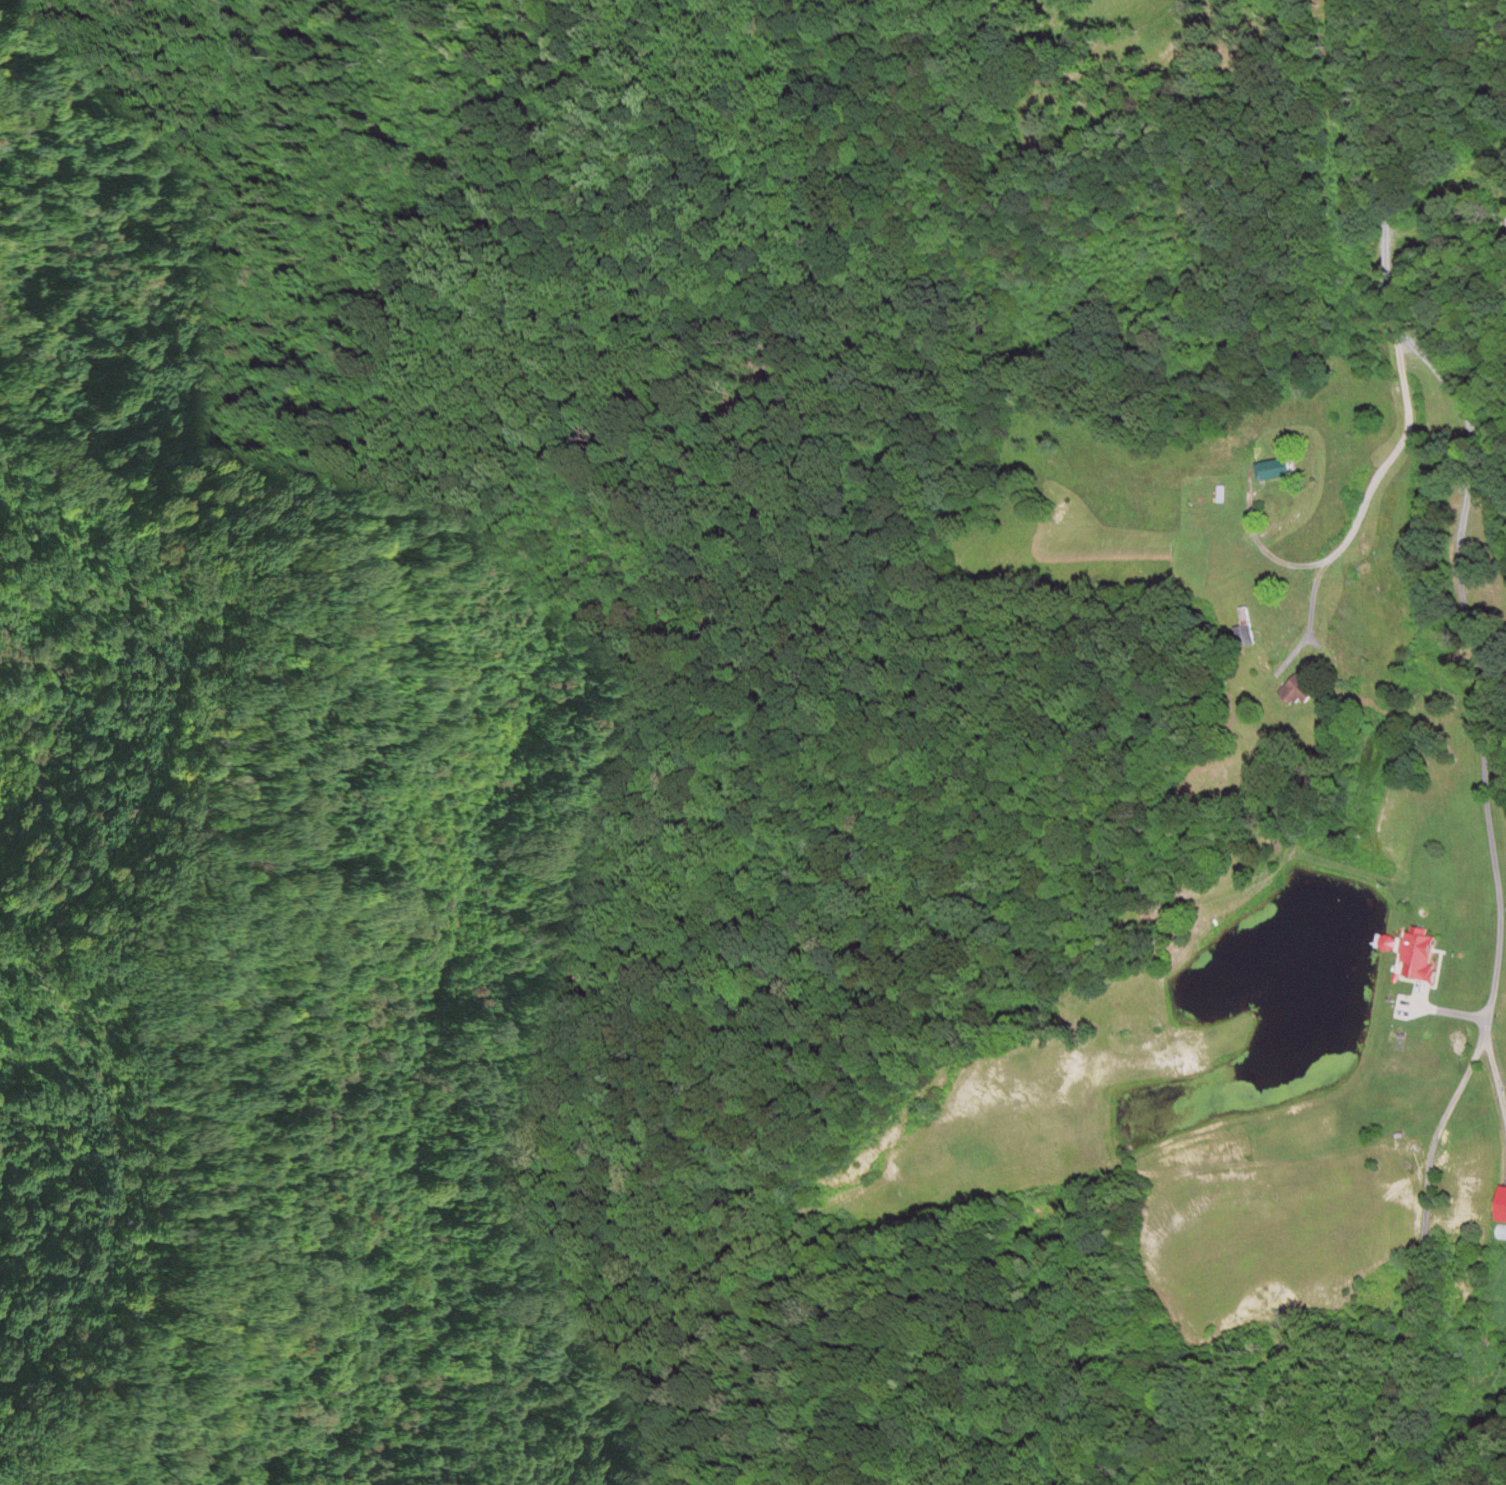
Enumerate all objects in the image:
building: (1271, 470)
road: (1405, 536)
building: (1247, 626)
building: (1296, 691)
building: (1384, 943)
building: (1416, 958)
building: (1499, 1207)
road: (1415, 1271)

